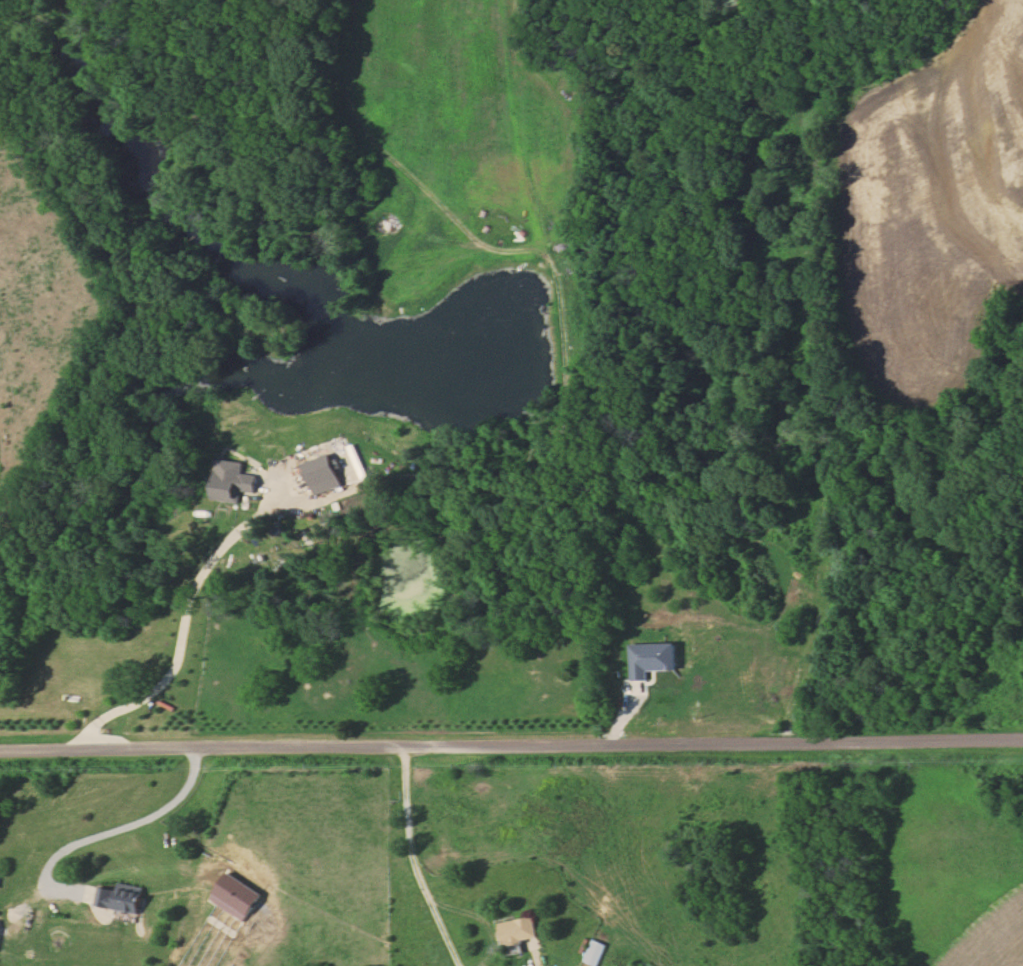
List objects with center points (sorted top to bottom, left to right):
road: (64, 419)
building: (326, 474)
building: (235, 486)
road: (190, 619)
road: (511, 742)
road: (108, 832)
road: (417, 859)
building: (122, 898)
building: (519, 931)
road: (531, 950)
building: (596, 952)

